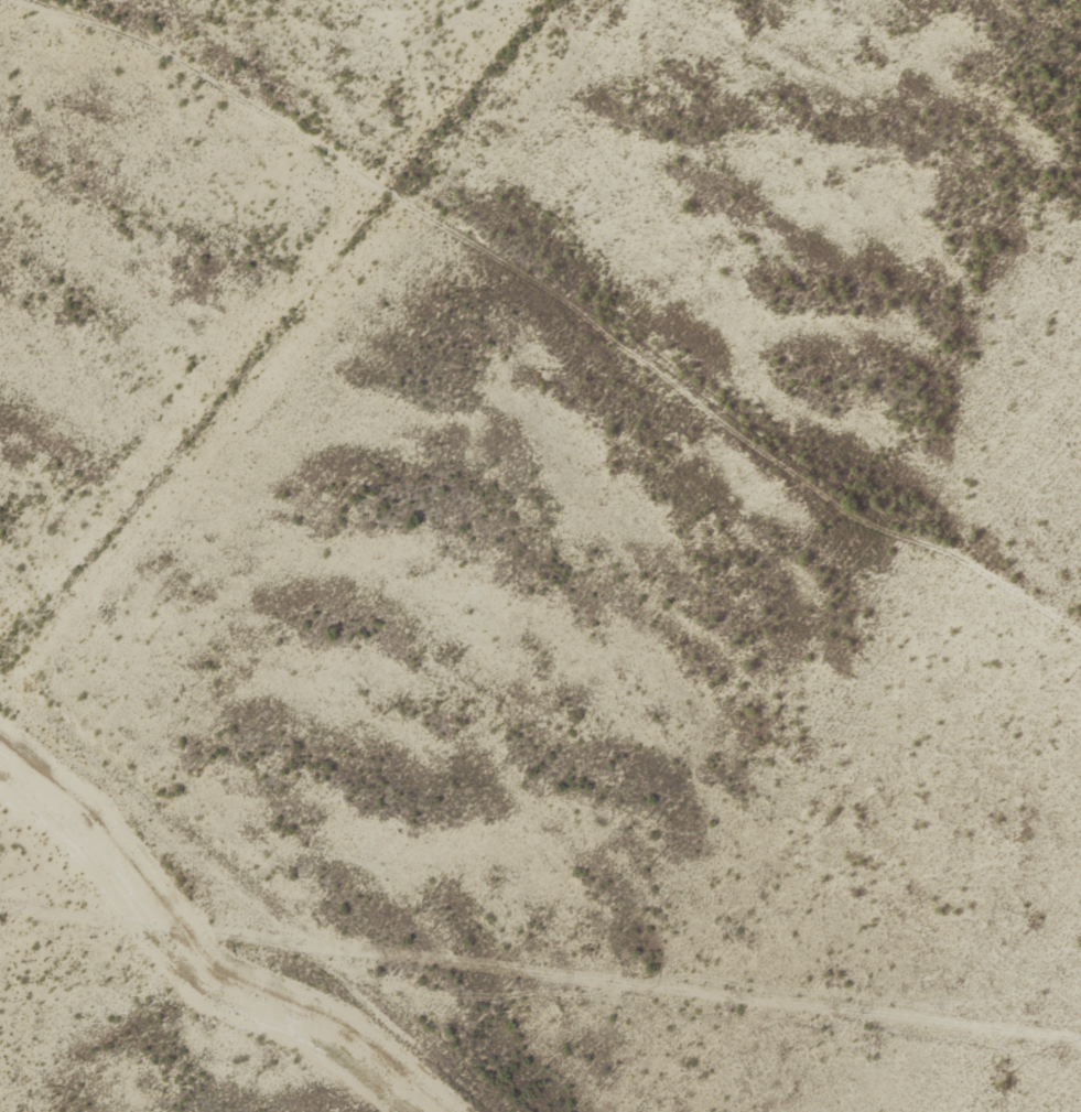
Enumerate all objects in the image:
road: (196, 956)

